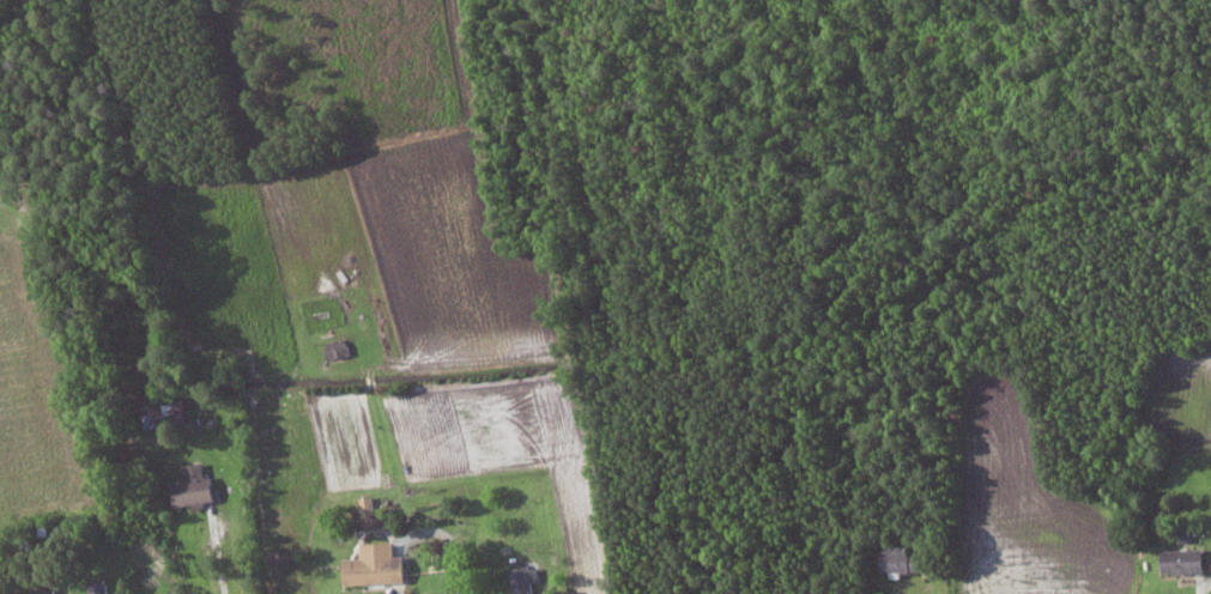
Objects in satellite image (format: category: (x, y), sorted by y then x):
building: (165, 411)
building: (195, 485)
building: (371, 513)
building: (1186, 560)
building: (377, 564)
building: (526, 578)
building: (101, 588)
building: (46, 590)

